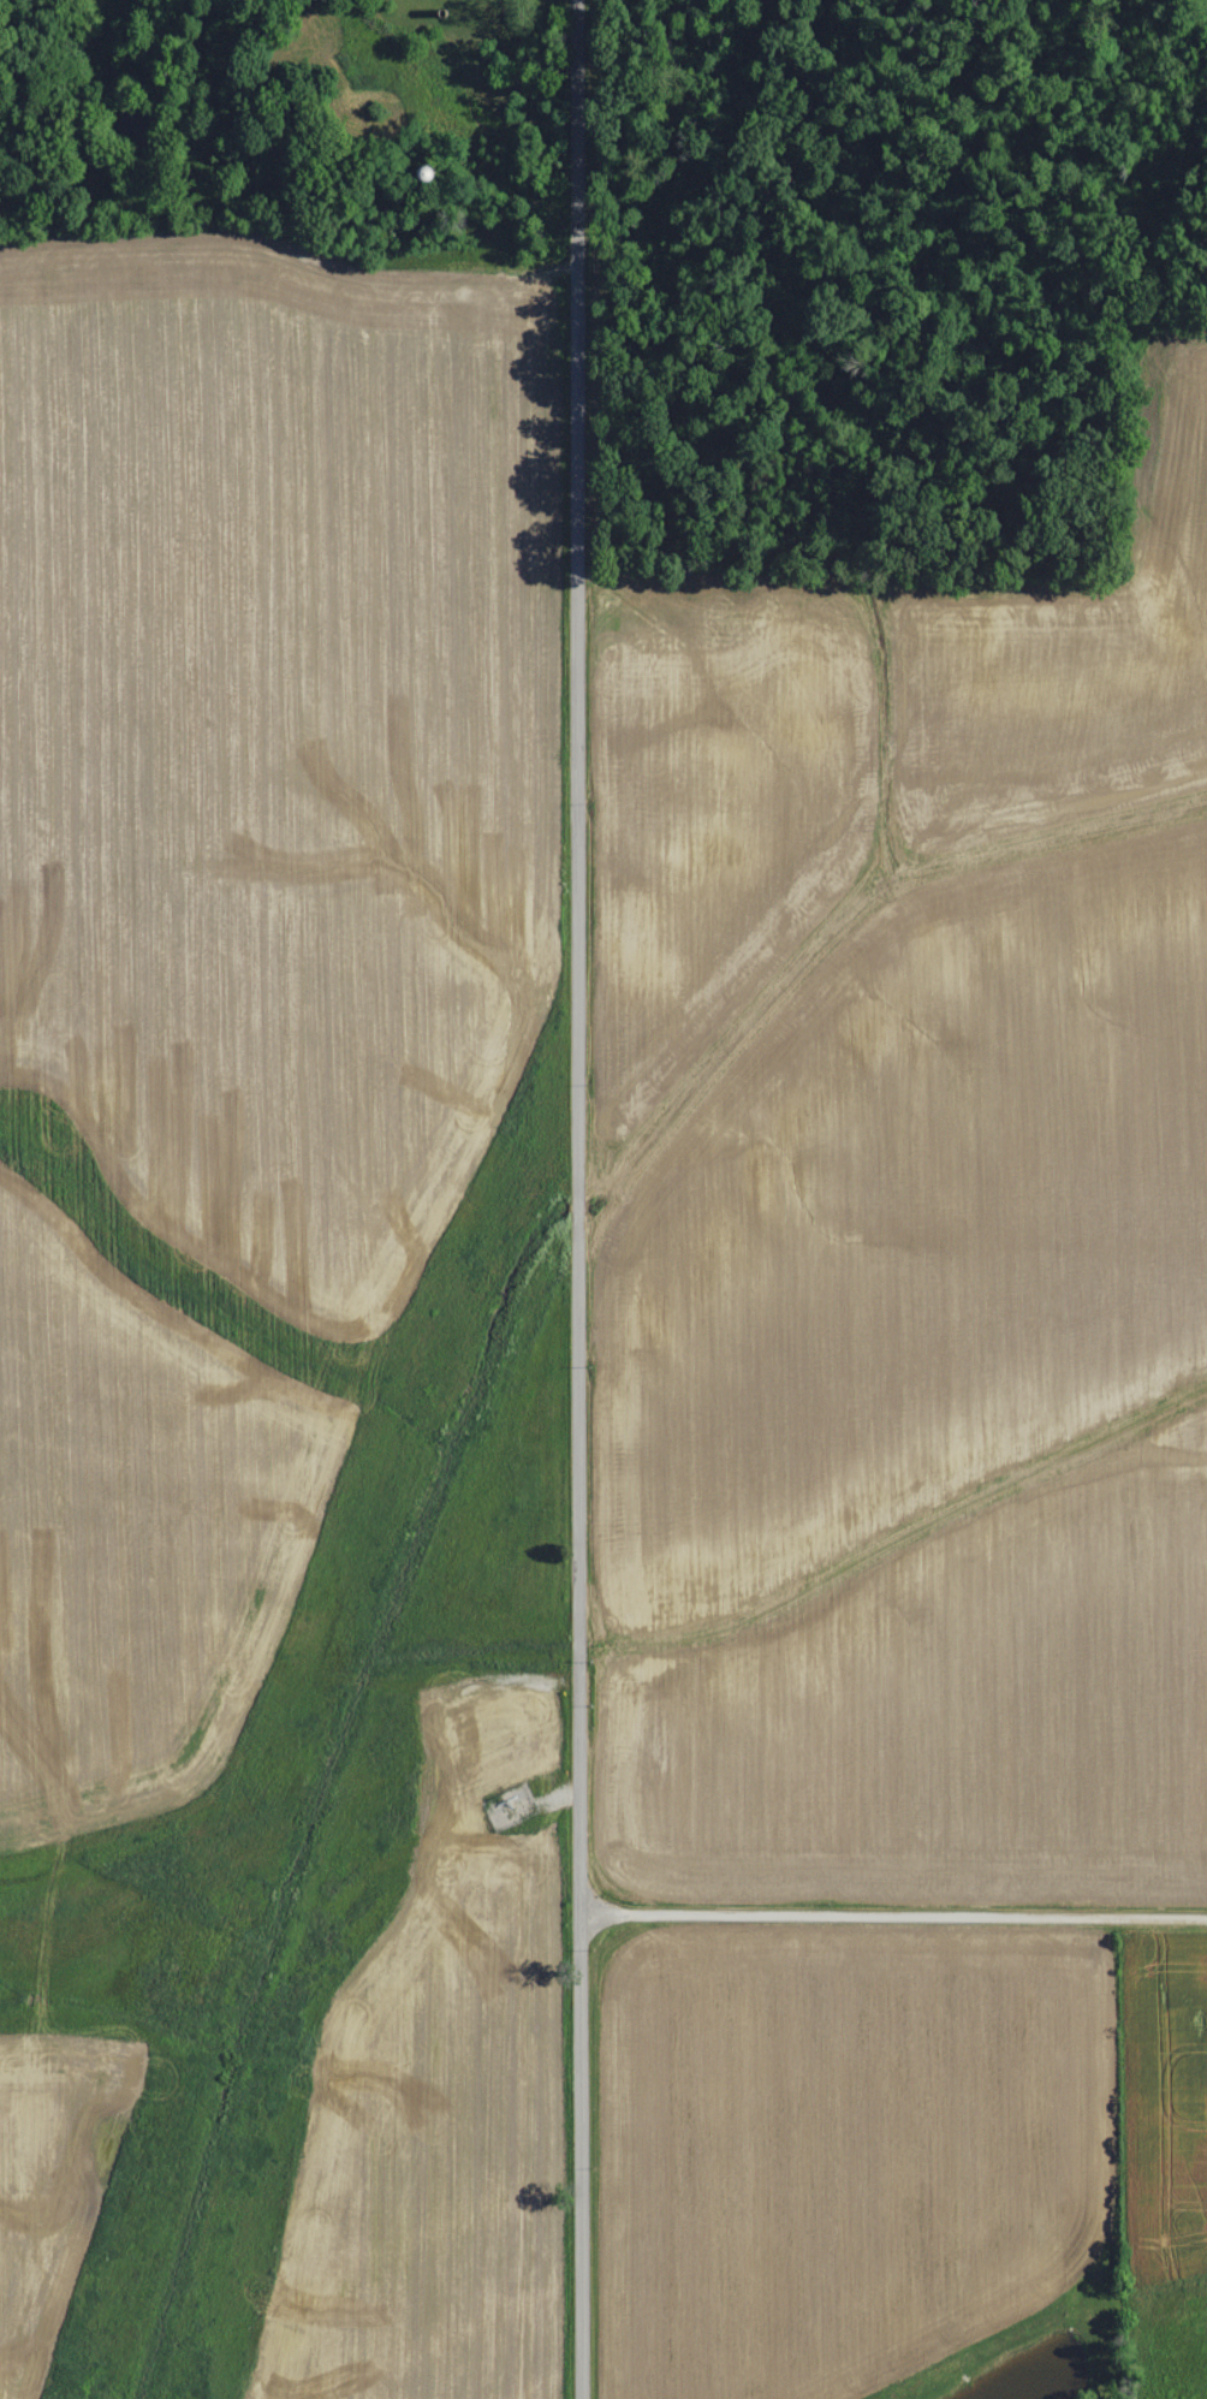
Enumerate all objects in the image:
road: (581, 1199)
road: (896, 1912)

